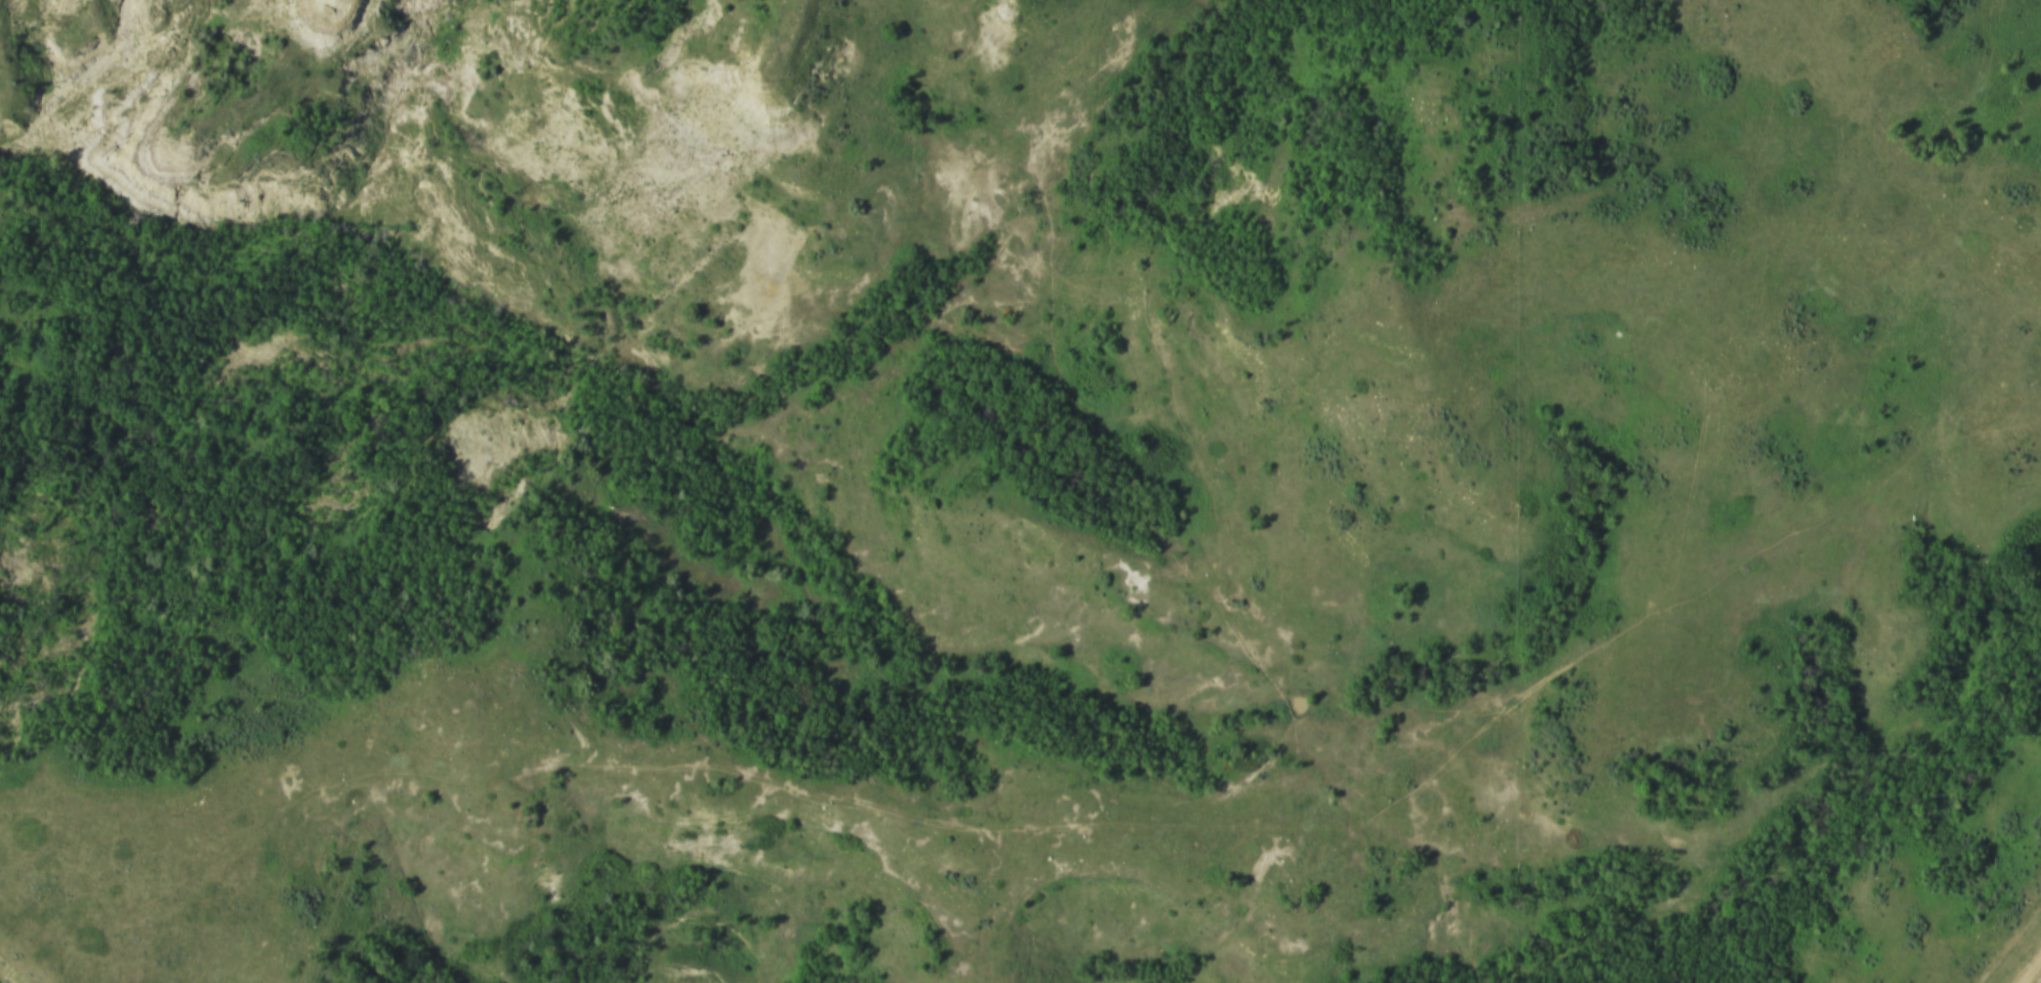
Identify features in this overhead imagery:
road: (2028, 968)

